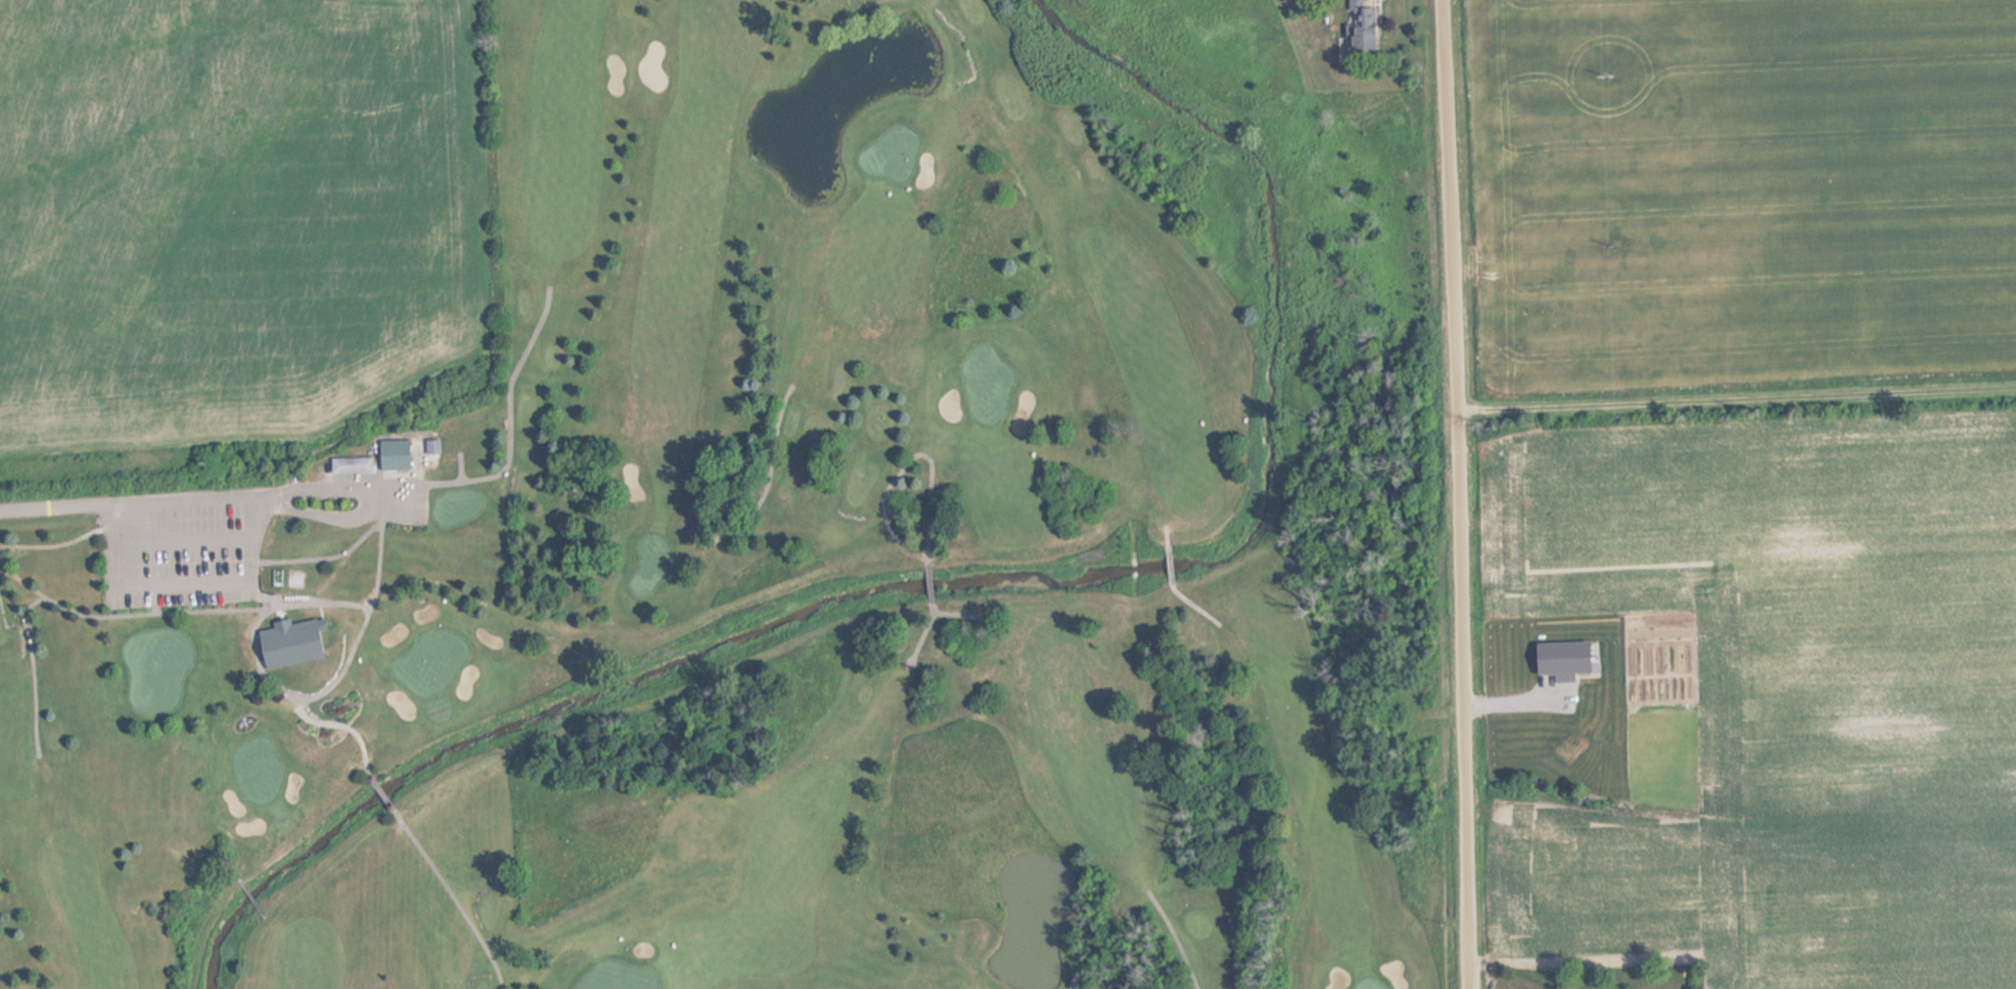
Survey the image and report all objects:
building: (1364, 26)
fountain: (795, 142)
crop: (229, 214)
road: (1736, 392)
road: (507, 414)
building: (410, 453)
crop: (1761, 463)
building: (352, 464)
road: (1457, 494)
road: (214, 497)
road: (319, 516)
road: (179, 541)
road: (55, 544)
parking lot: (178, 557)
road: (322, 558)
park: (724, 579)
building: (296, 580)
road: (180, 586)
road: (302, 603)
road: (28, 605)
road: (369, 609)
road: (28, 642)
road: (294, 704)
road: (384, 791)
road: (449, 892)
fountain: (1027, 919)
building: (1077, 985)

